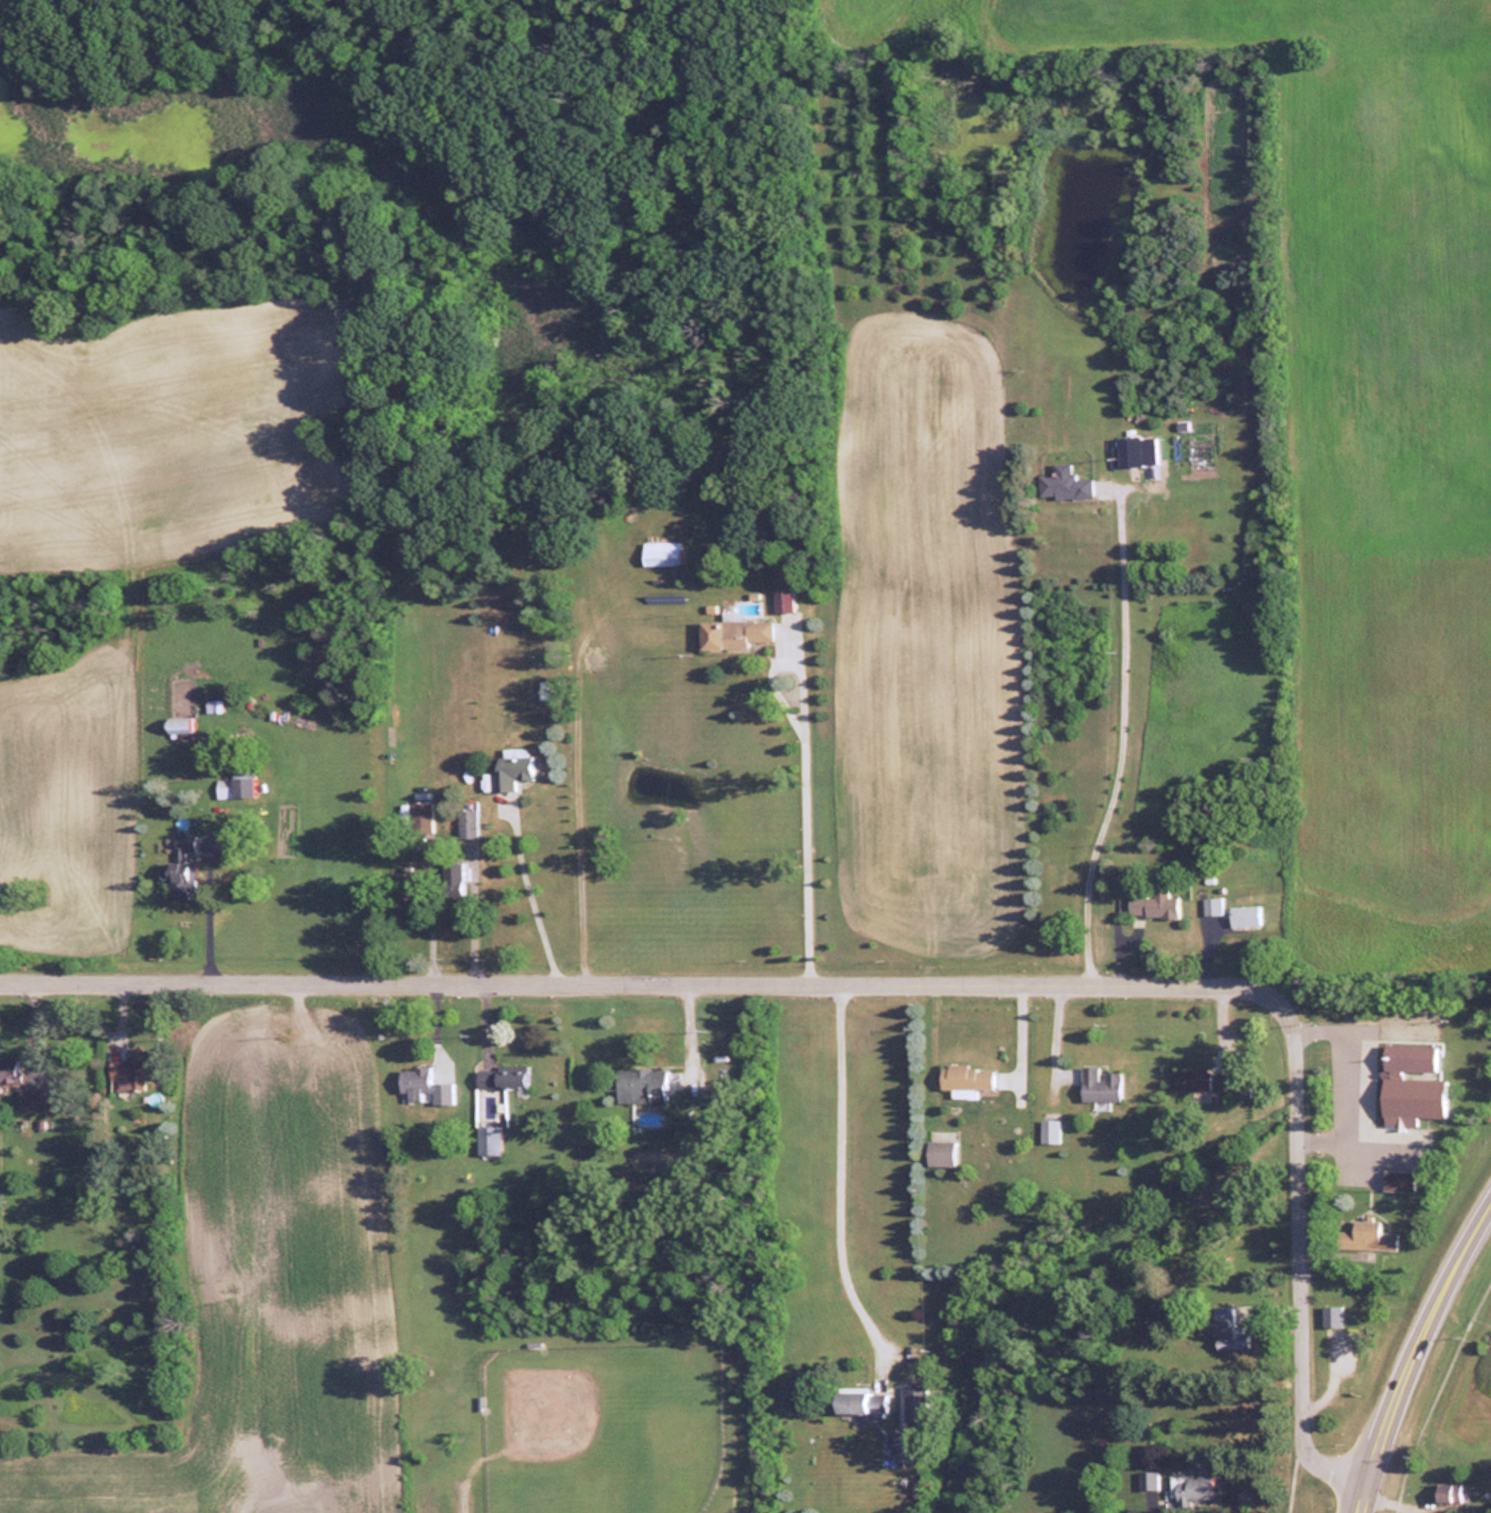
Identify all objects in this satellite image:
building: (1130, 451)
building: (1065, 482)
building: (661, 552)
building: (784, 588)
building: (735, 633)
building: (213, 706)
building: (178, 725)
building: (514, 769)
building: (235, 787)
building: (427, 824)
building: (470, 824)
building: (181, 870)
building: (456, 879)
road: (529, 889)
building: (1154, 904)
building: (1213, 906)
road: (434, 910)
road: (476, 910)
building: (1245, 916)
road: (644, 977)
building: (10, 1068)
building: (132, 1071)
building: (499, 1076)
building: (966, 1078)
building: (1192, 1079)
building: (1233, 1082)
building: (1411, 1082)
building: (1099, 1083)
building: (641, 1084)
building: (424, 1086)
building: (37, 1096)
building: (1050, 1129)
building: (489, 1139)
building: (940, 1151)
building: (1397, 1179)
building: (1365, 1236)
road: (1301, 1253)
building: (1331, 1316)
building: (1228, 1329)
road: (1414, 1354)
building: (860, 1400)
building: (915, 1402)
park: (585, 1423)
building: (902, 1446)
building: (1191, 1488)
building: (1450, 1491)

